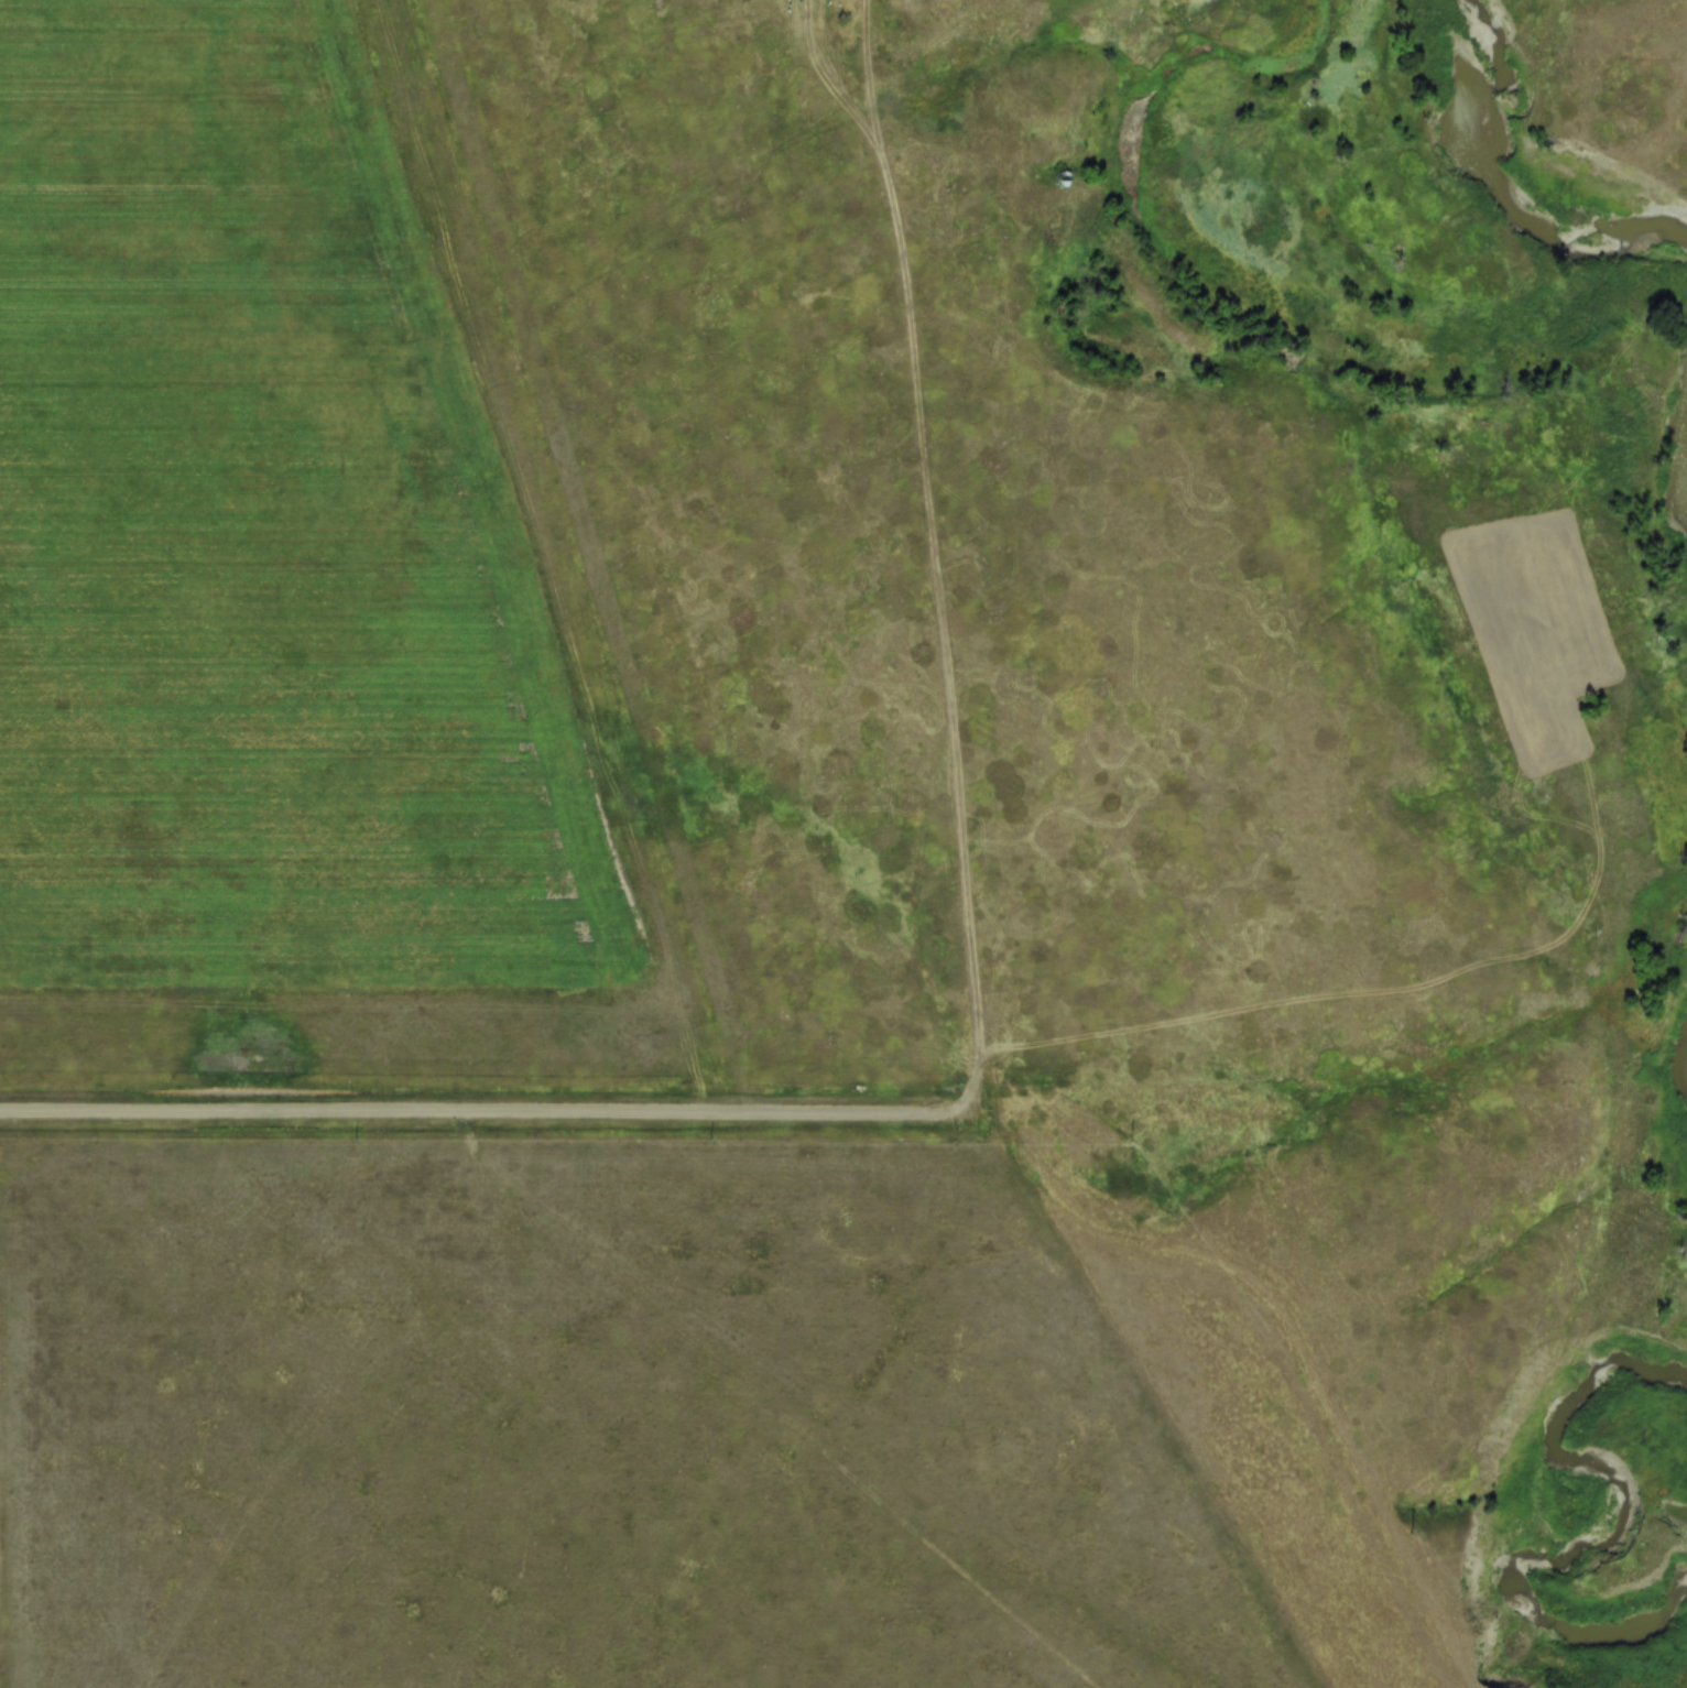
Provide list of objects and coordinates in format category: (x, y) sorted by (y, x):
road: (930, 939)
road: (499, 1107)

